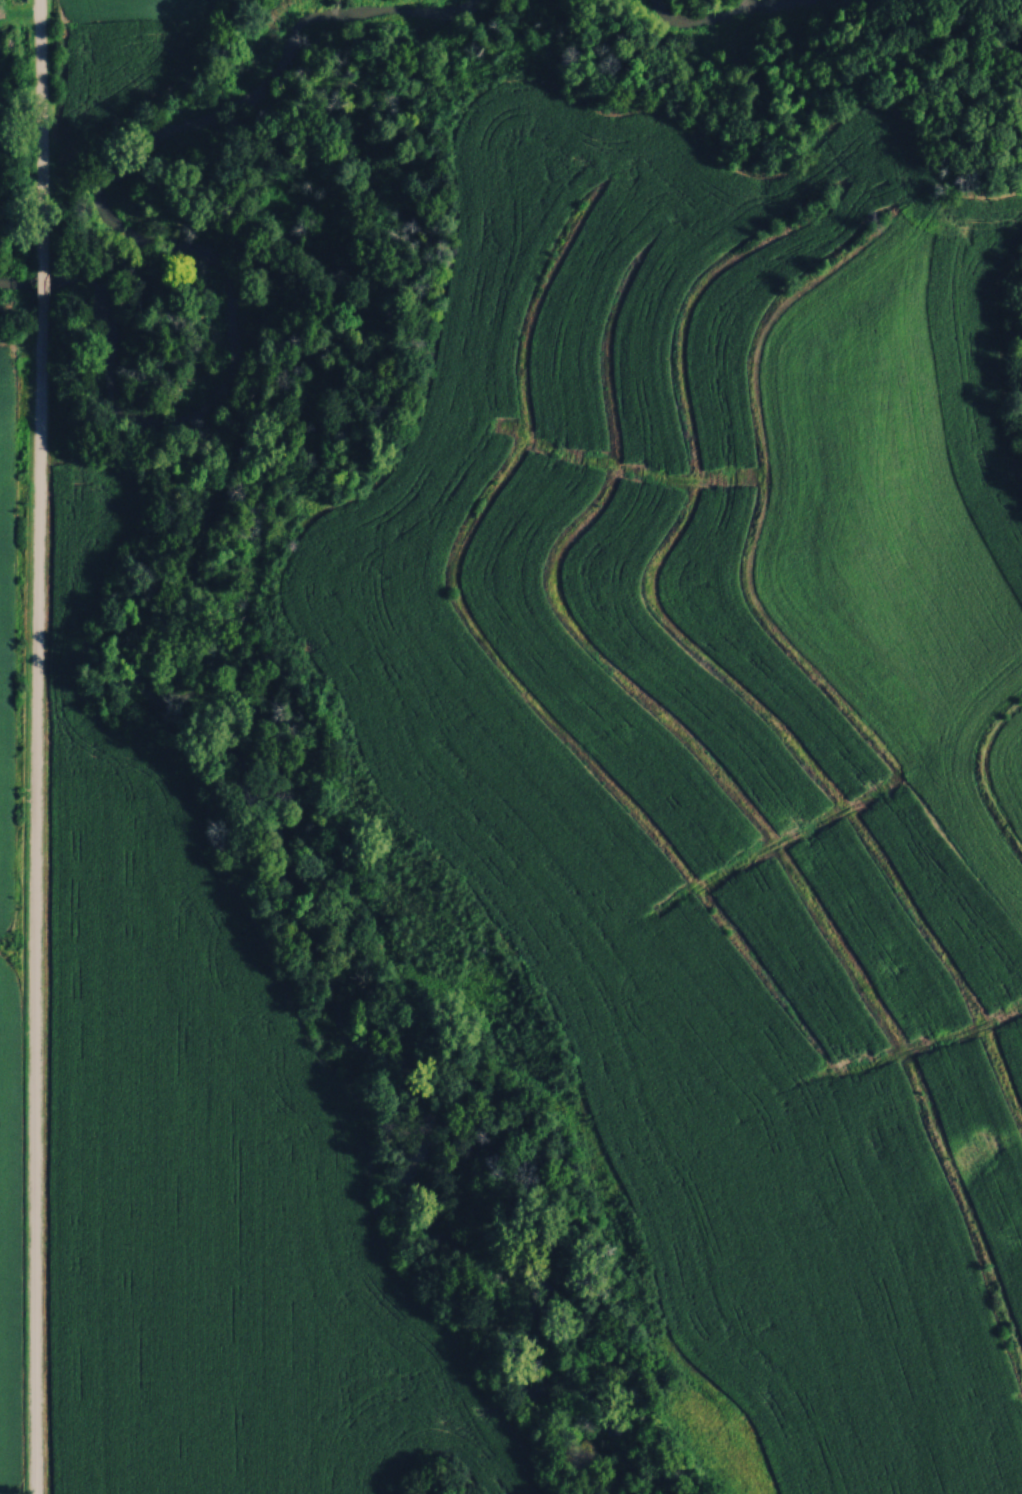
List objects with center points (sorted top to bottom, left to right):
road: (41, 129)
road: (42, 286)
road: (37, 903)

